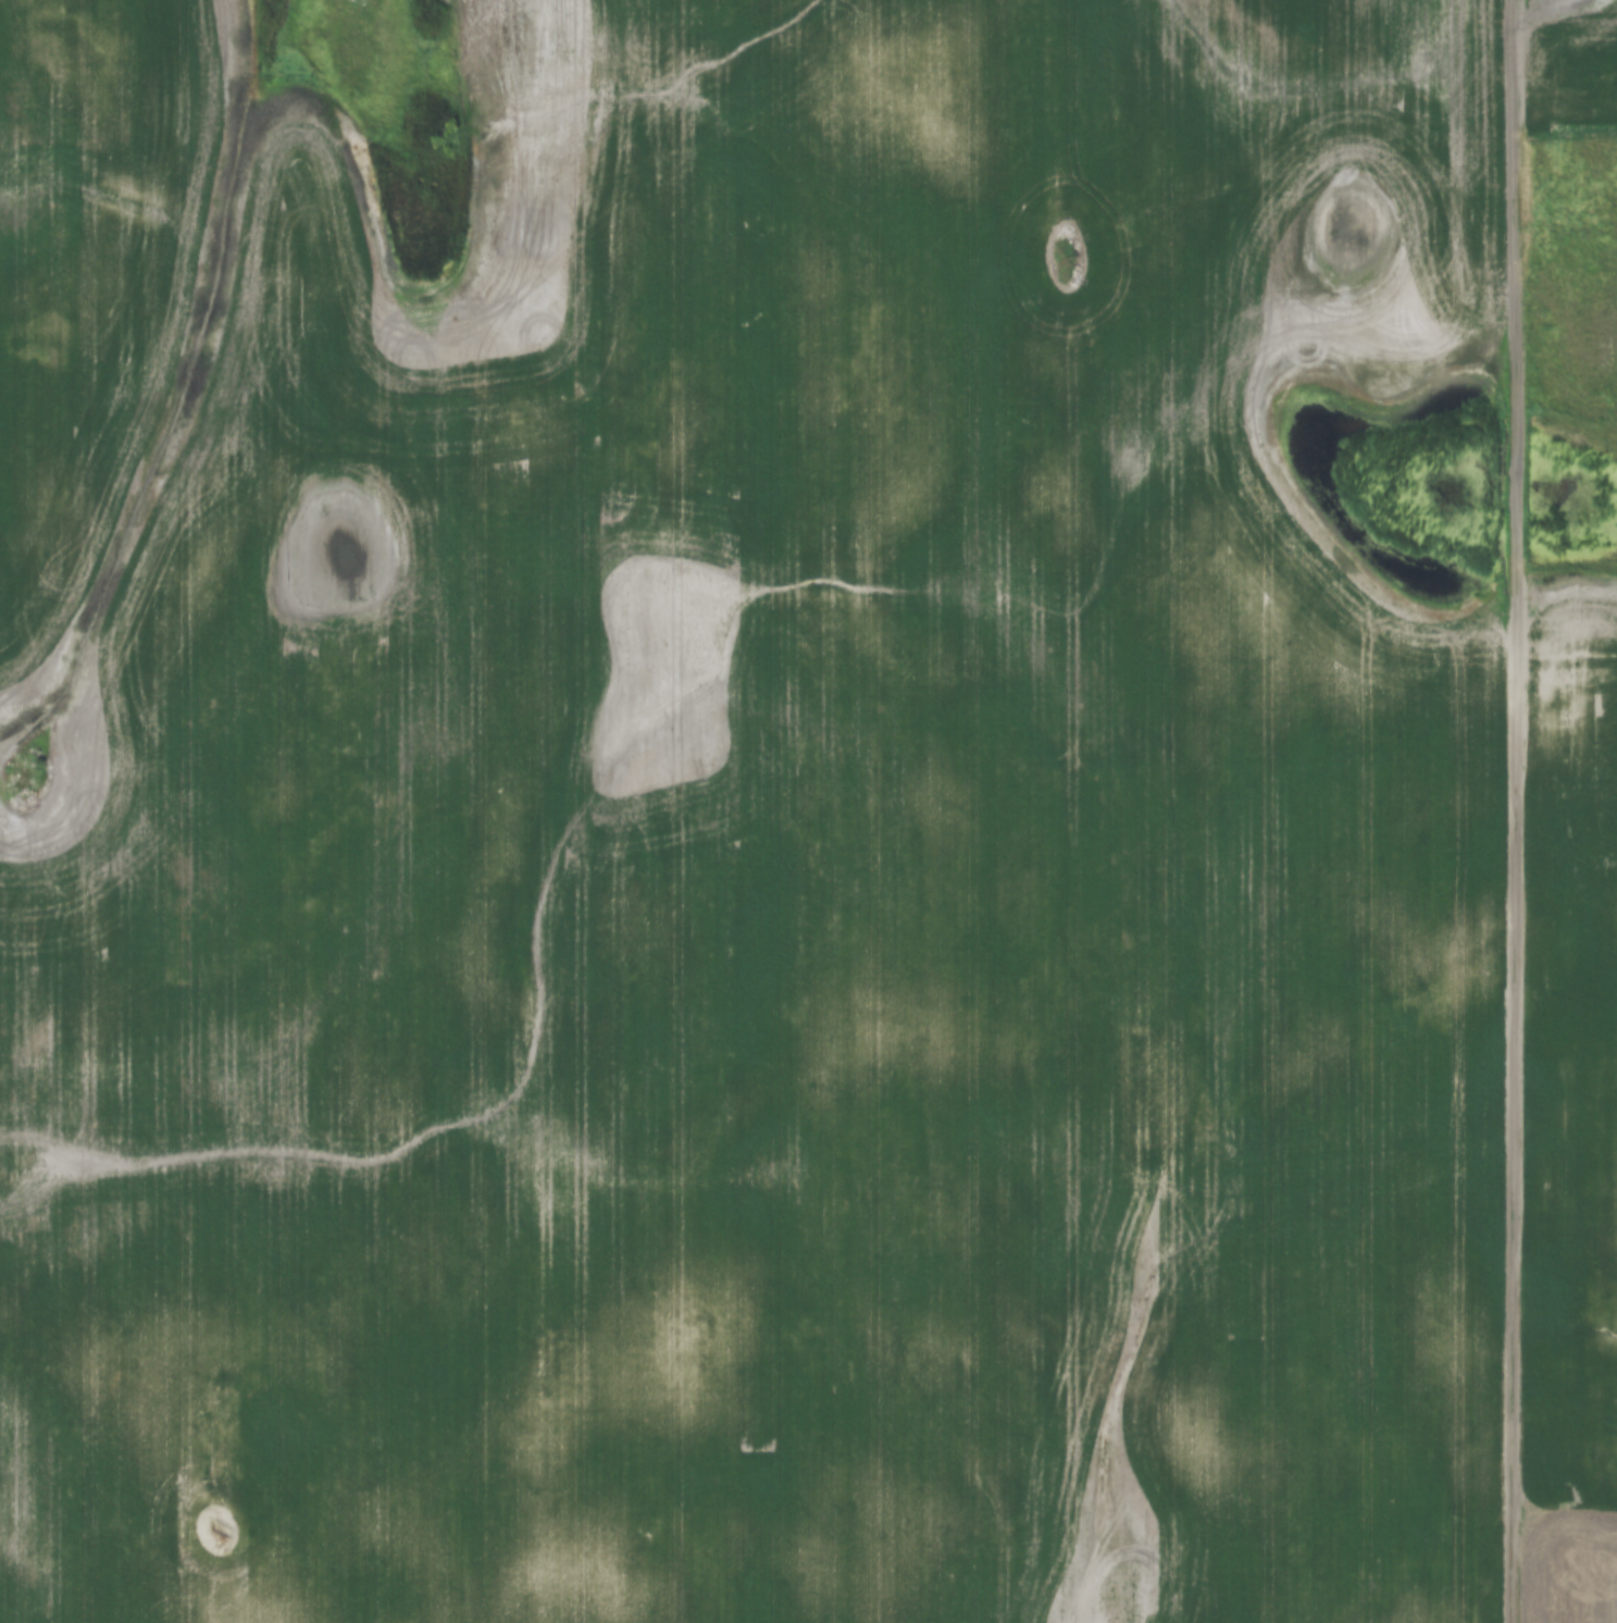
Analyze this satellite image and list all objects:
road: (1515, 811)
road: (1558, 1514)

